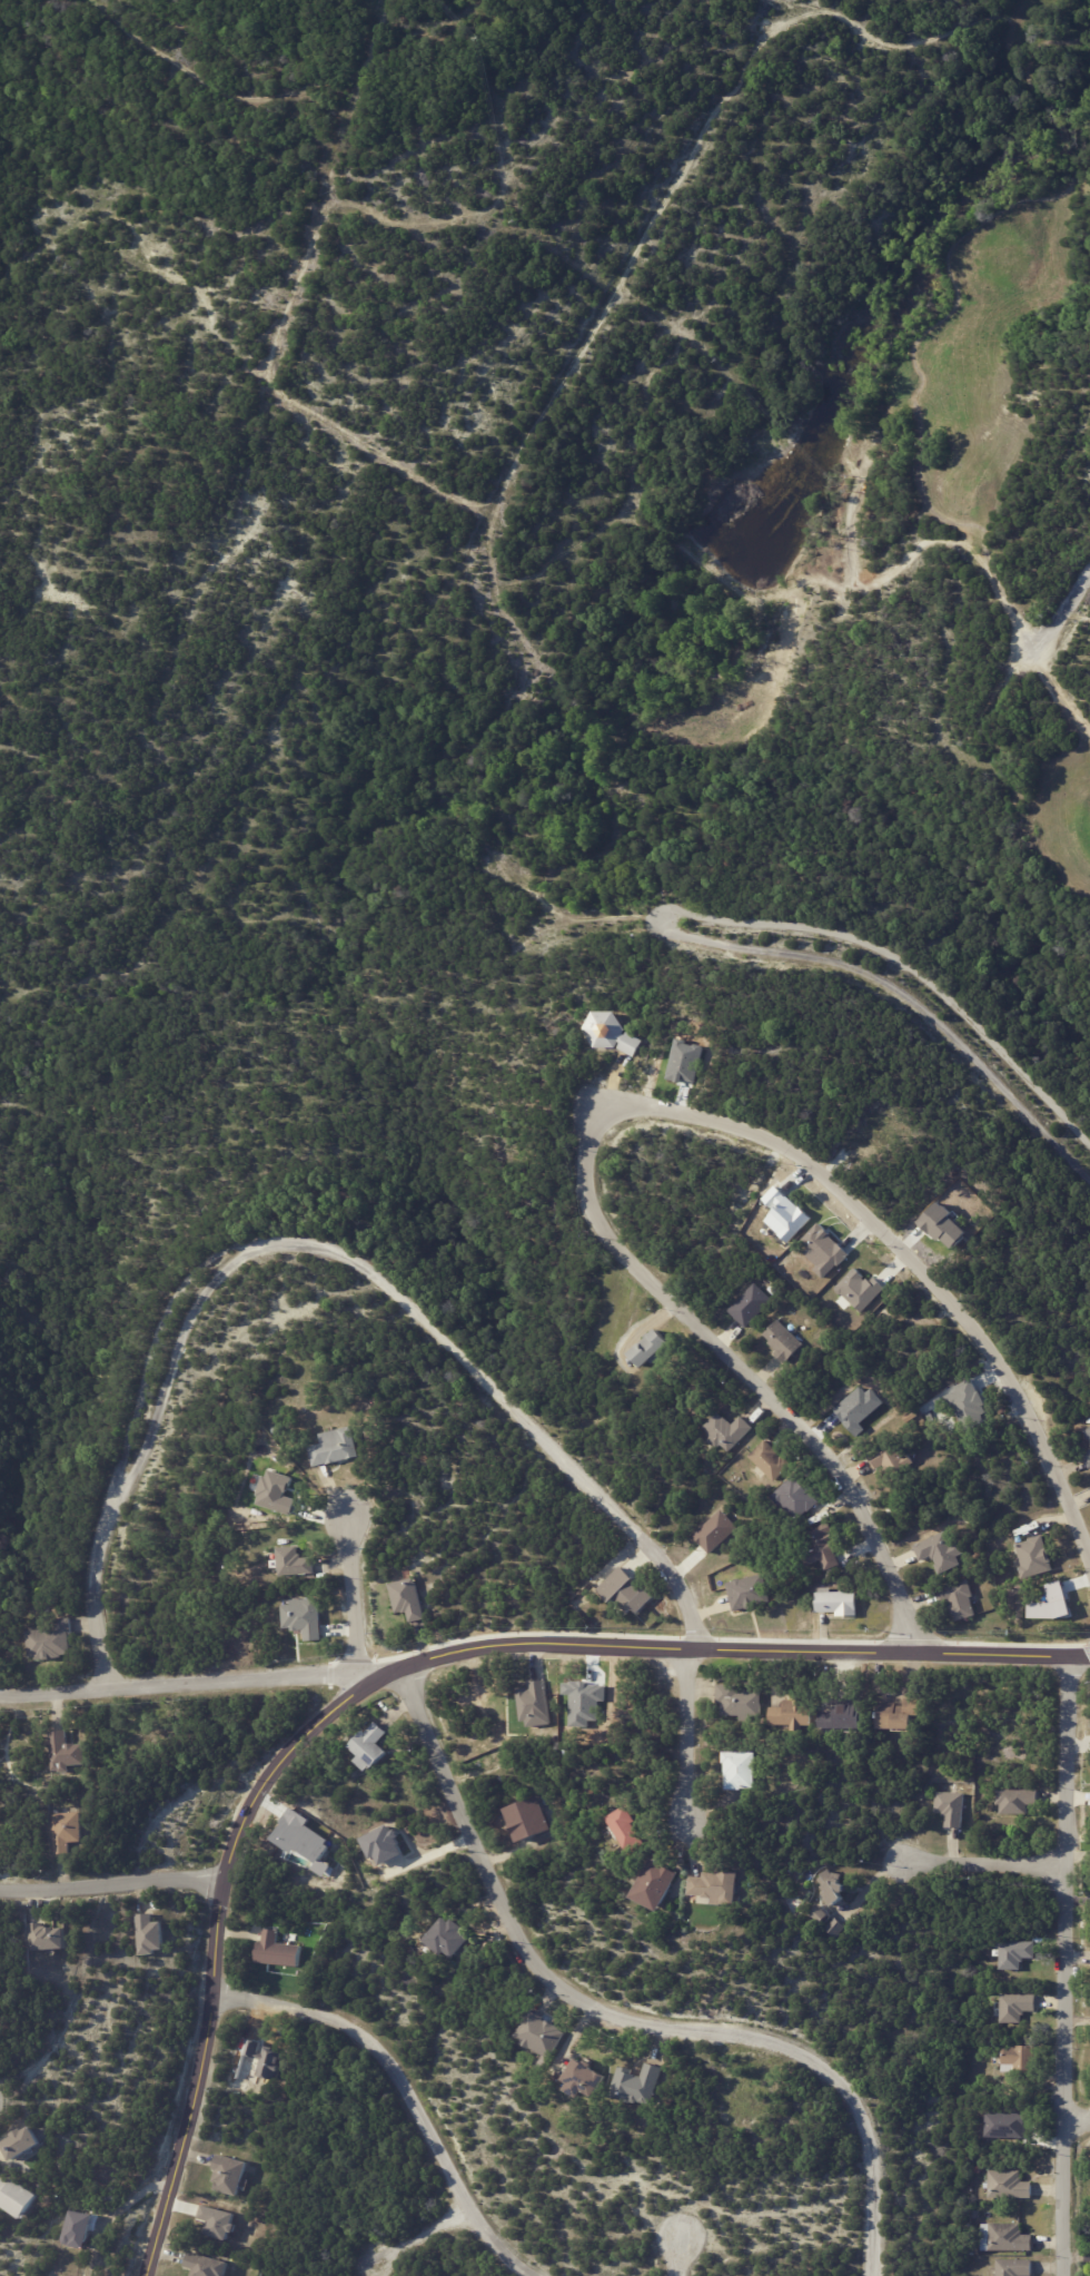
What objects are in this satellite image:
road: (1048, 581)
road: (545, 863)
building: (611, 1033)
road: (644, 1097)
building: (784, 1214)
building: (822, 1249)
road: (330, 1250)
building: (859, 1289)
building: (750, 1304)
building: (783, 1341)
building: (646, 1346)
building: (965, 1405)
building: (371, 1408)
building: (278, 1430)
building: (729, 1432)
building: (1088, 1432)
building: (337, 1448)
building: (889, 1456)
building: (1087, 1456)
building: (770, 1460)
building: (275, 1491)
building: (794, 1496)
building: (714, 1530)
building: (823, 1547)
building: (940, 1551)
building: (1033, 1557)
building: (296, 1564)
building: (987, 1565)
road: (357, 1579)
building: (623, 1590)
building: (749, 1593)
building: (958, 1598)
building: (409, 1599)
building: (836, 1602)
building: (301, 1617)
building: (53, 1643)
road: (404, 1671)
road: (200, 1684)
building: (740, 1702)
building: (535, 1704)
building: (793, 1713)
building: (896, 1713)
road: (697, 1740)
building: (369, 1746)
building: (69, 1754)
building: (739, 1770)
building: (588, 1793)
building: (1015, 1801)
building: (949, 1807)
building: (526, 1819)
building: (625, 1827)
building: (68, 1832)
building: (381, 1844)
road: (985, 1866)
building: (654, 1885)
road: (113, 1886)
building: (715, 1889)
building: (834, 1889)
building: (817, 1913)
building: (835, 1928)
building: (152, 1935)
building: (49, 1938)
building: (446, 1938)
building: (276, 1952)
building: (1015, 1953)
road: (1070, 1965)
building: (1018, 2007)
road: (627, 2019)
building: (541, 2036)
building: (1019, 2059)
building: (262, 2060)
building: (582, 2080)
building: (636, 2086)
road: (406, 2096)
building: (1003, 2124)
road: (1081, 2125)
building: (24, 2142)
building: (993, 2155)
building: (228, 2174)
building: (1007, 2185)
building: (19, 2196)
building: (977, 2214)
building: (80, 2231)
road: (418, 2236)
building: (1003, 2237)
building: (972, 2252)
building: (1007, 2254)
road: (682, 2255)
building: (205, 2266)
building: (1013, 2267)

